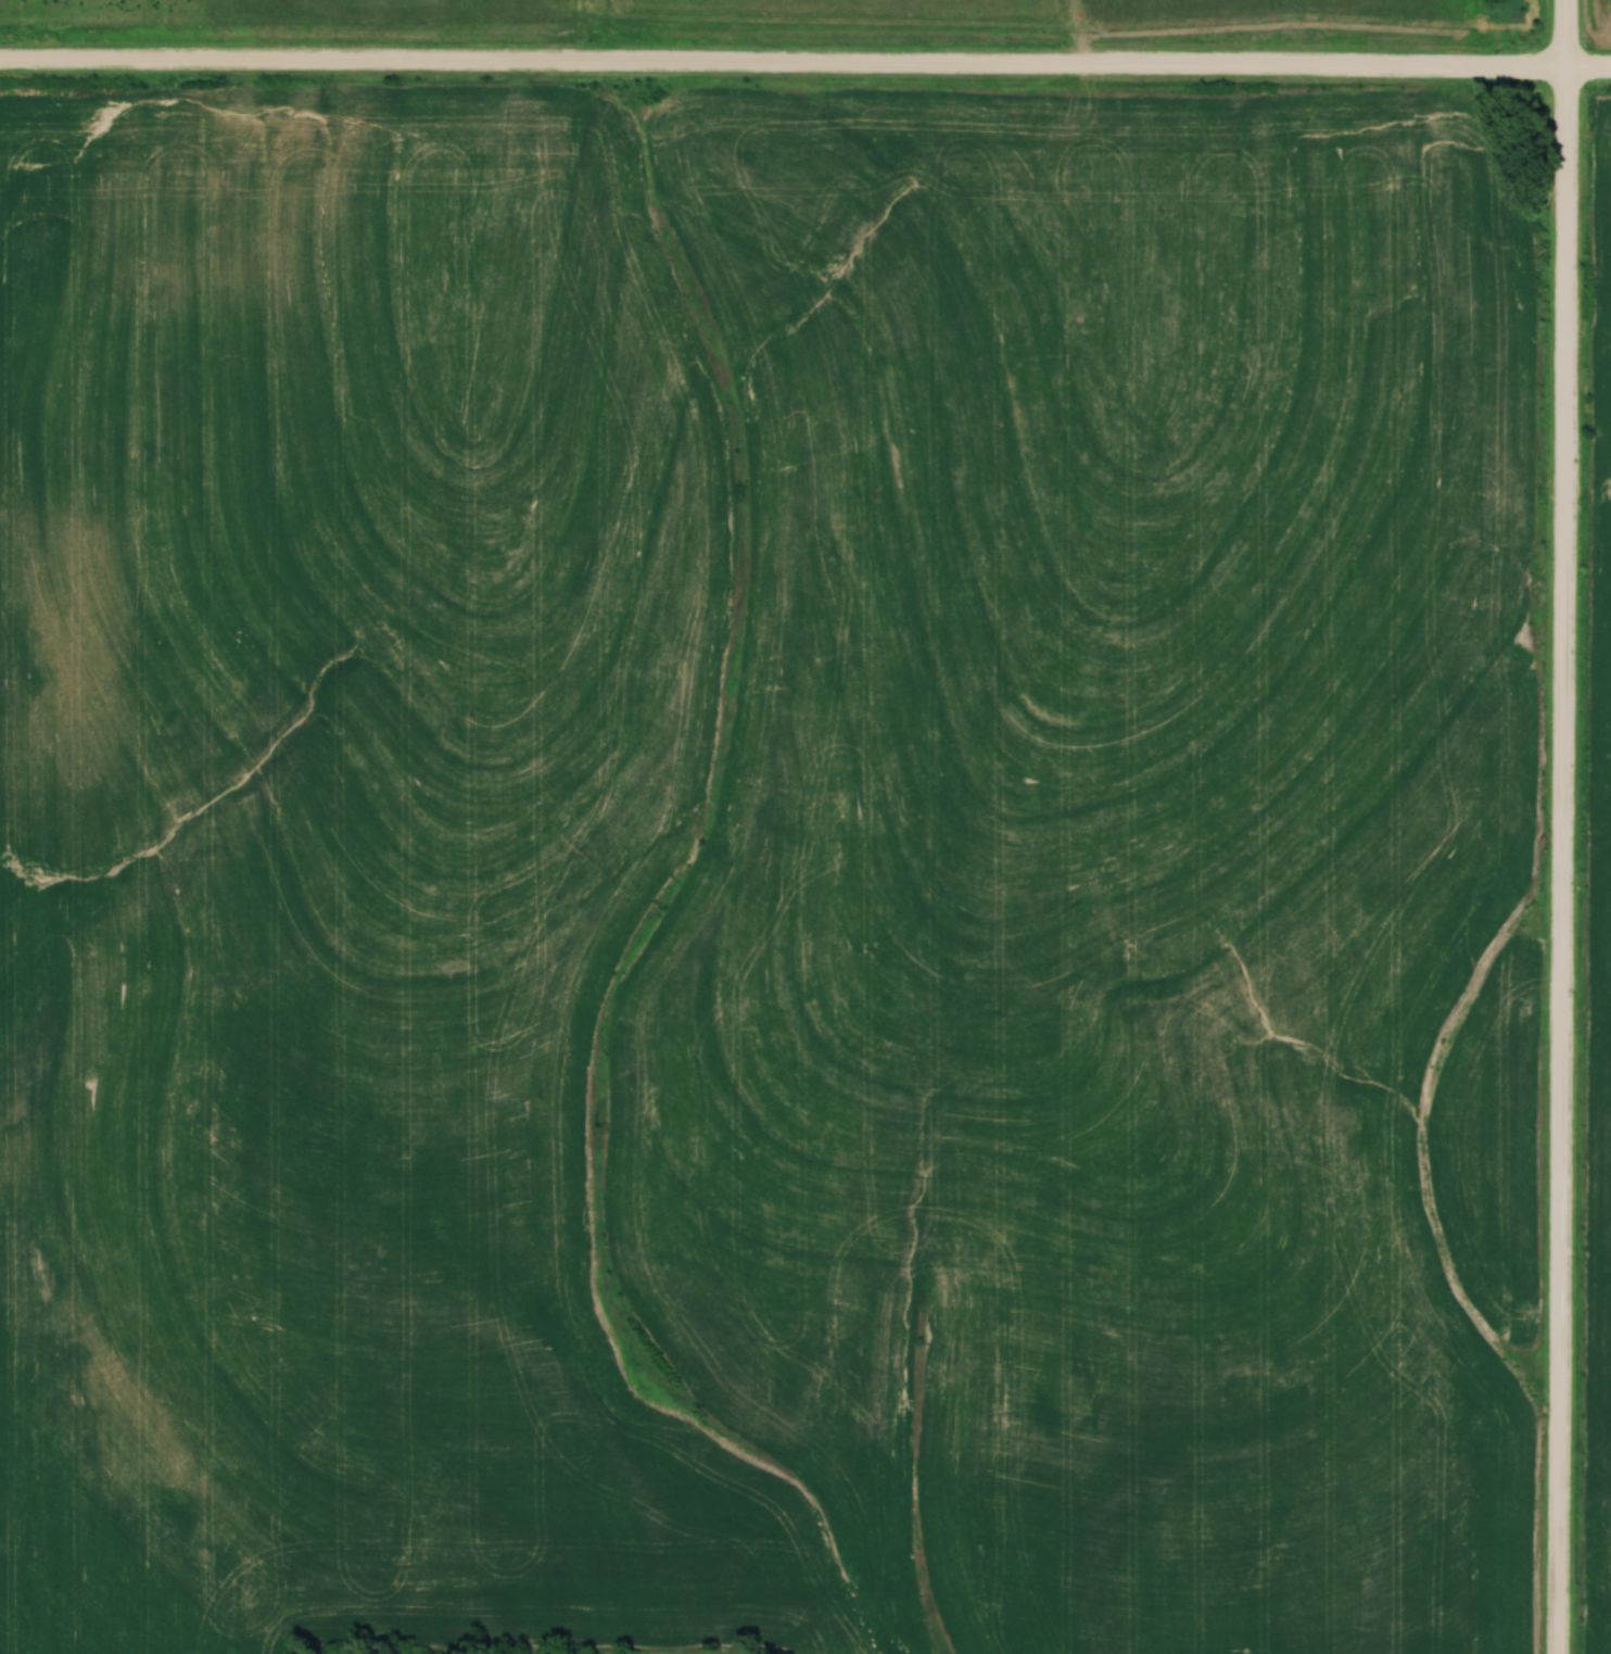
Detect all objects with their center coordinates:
road: (805, 63)
road: (1562, 826)

